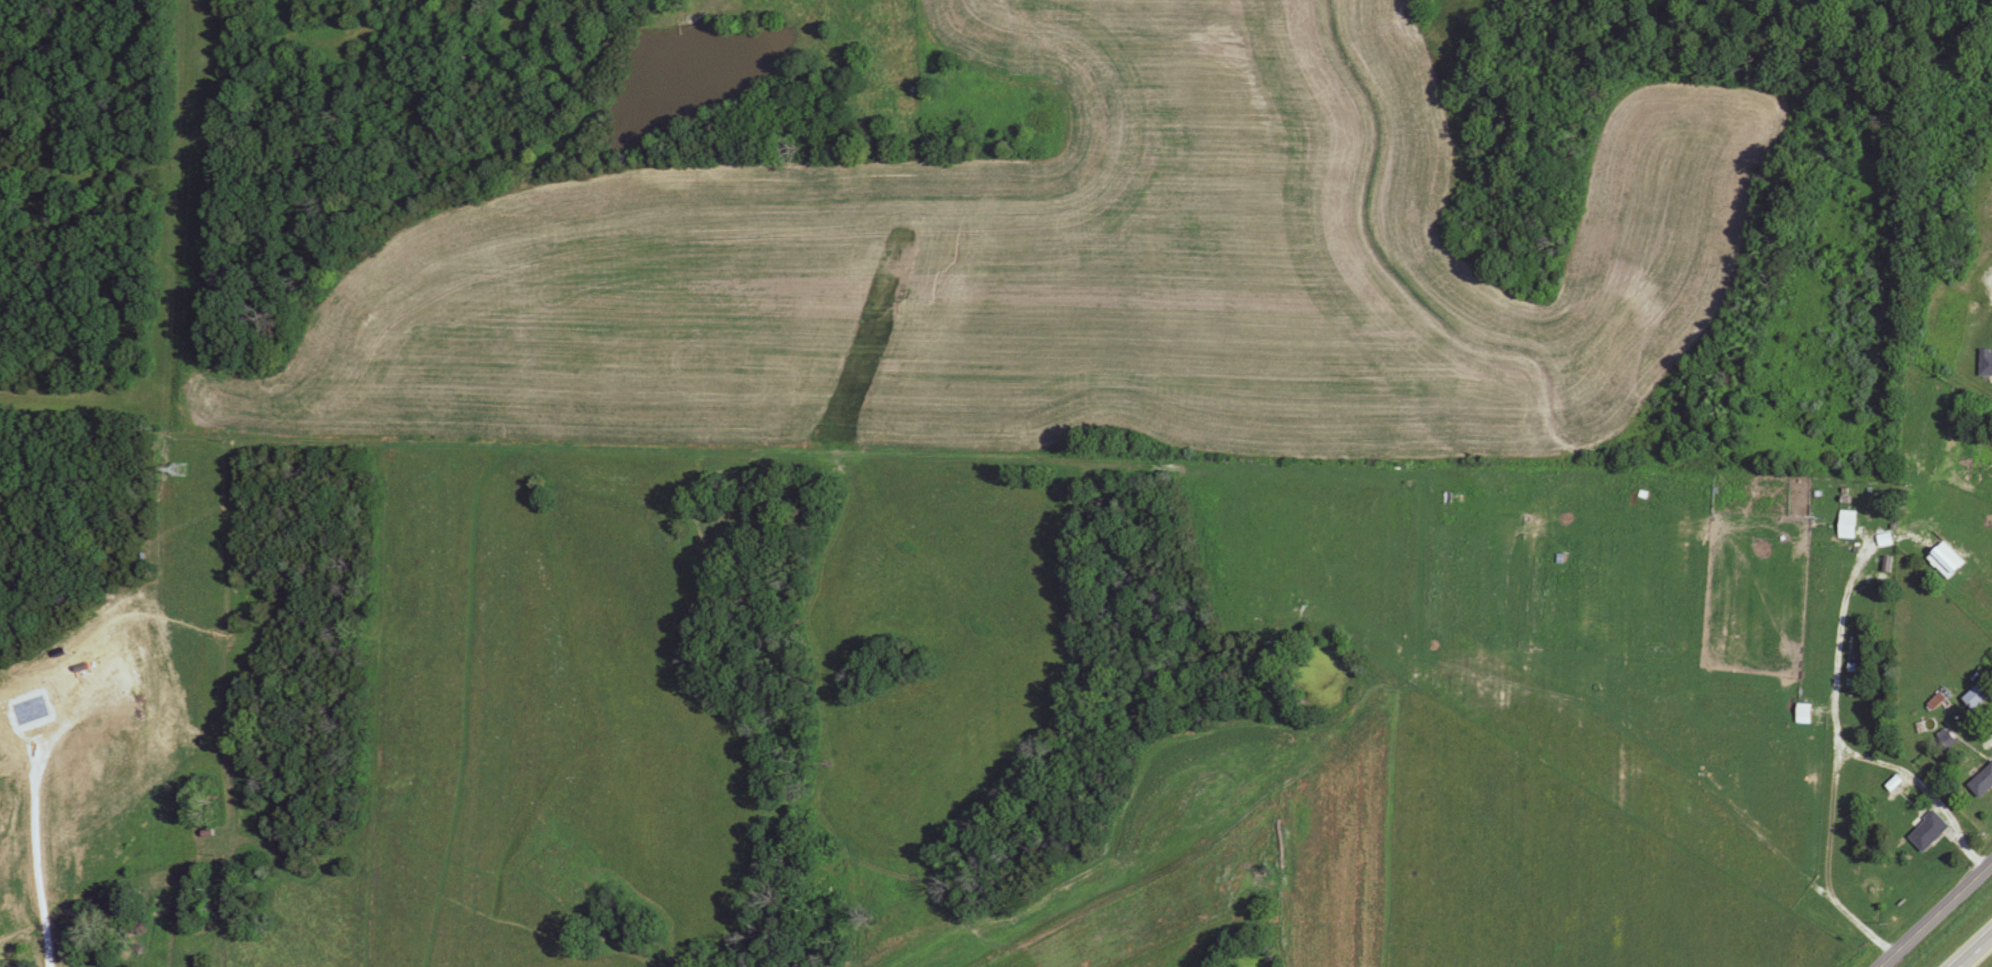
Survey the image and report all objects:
building: (1000, 84)
building: (1986, 364)
power tower: (182, 469)
building: (180, 471)
building: (1850, 525)
building: (1949, 560)
building: (1980, 696)
building: (1948, 739)
building: (1983, 785)
building: (1931, 833)
road: (1936, 915)
road: (1975, 951)

